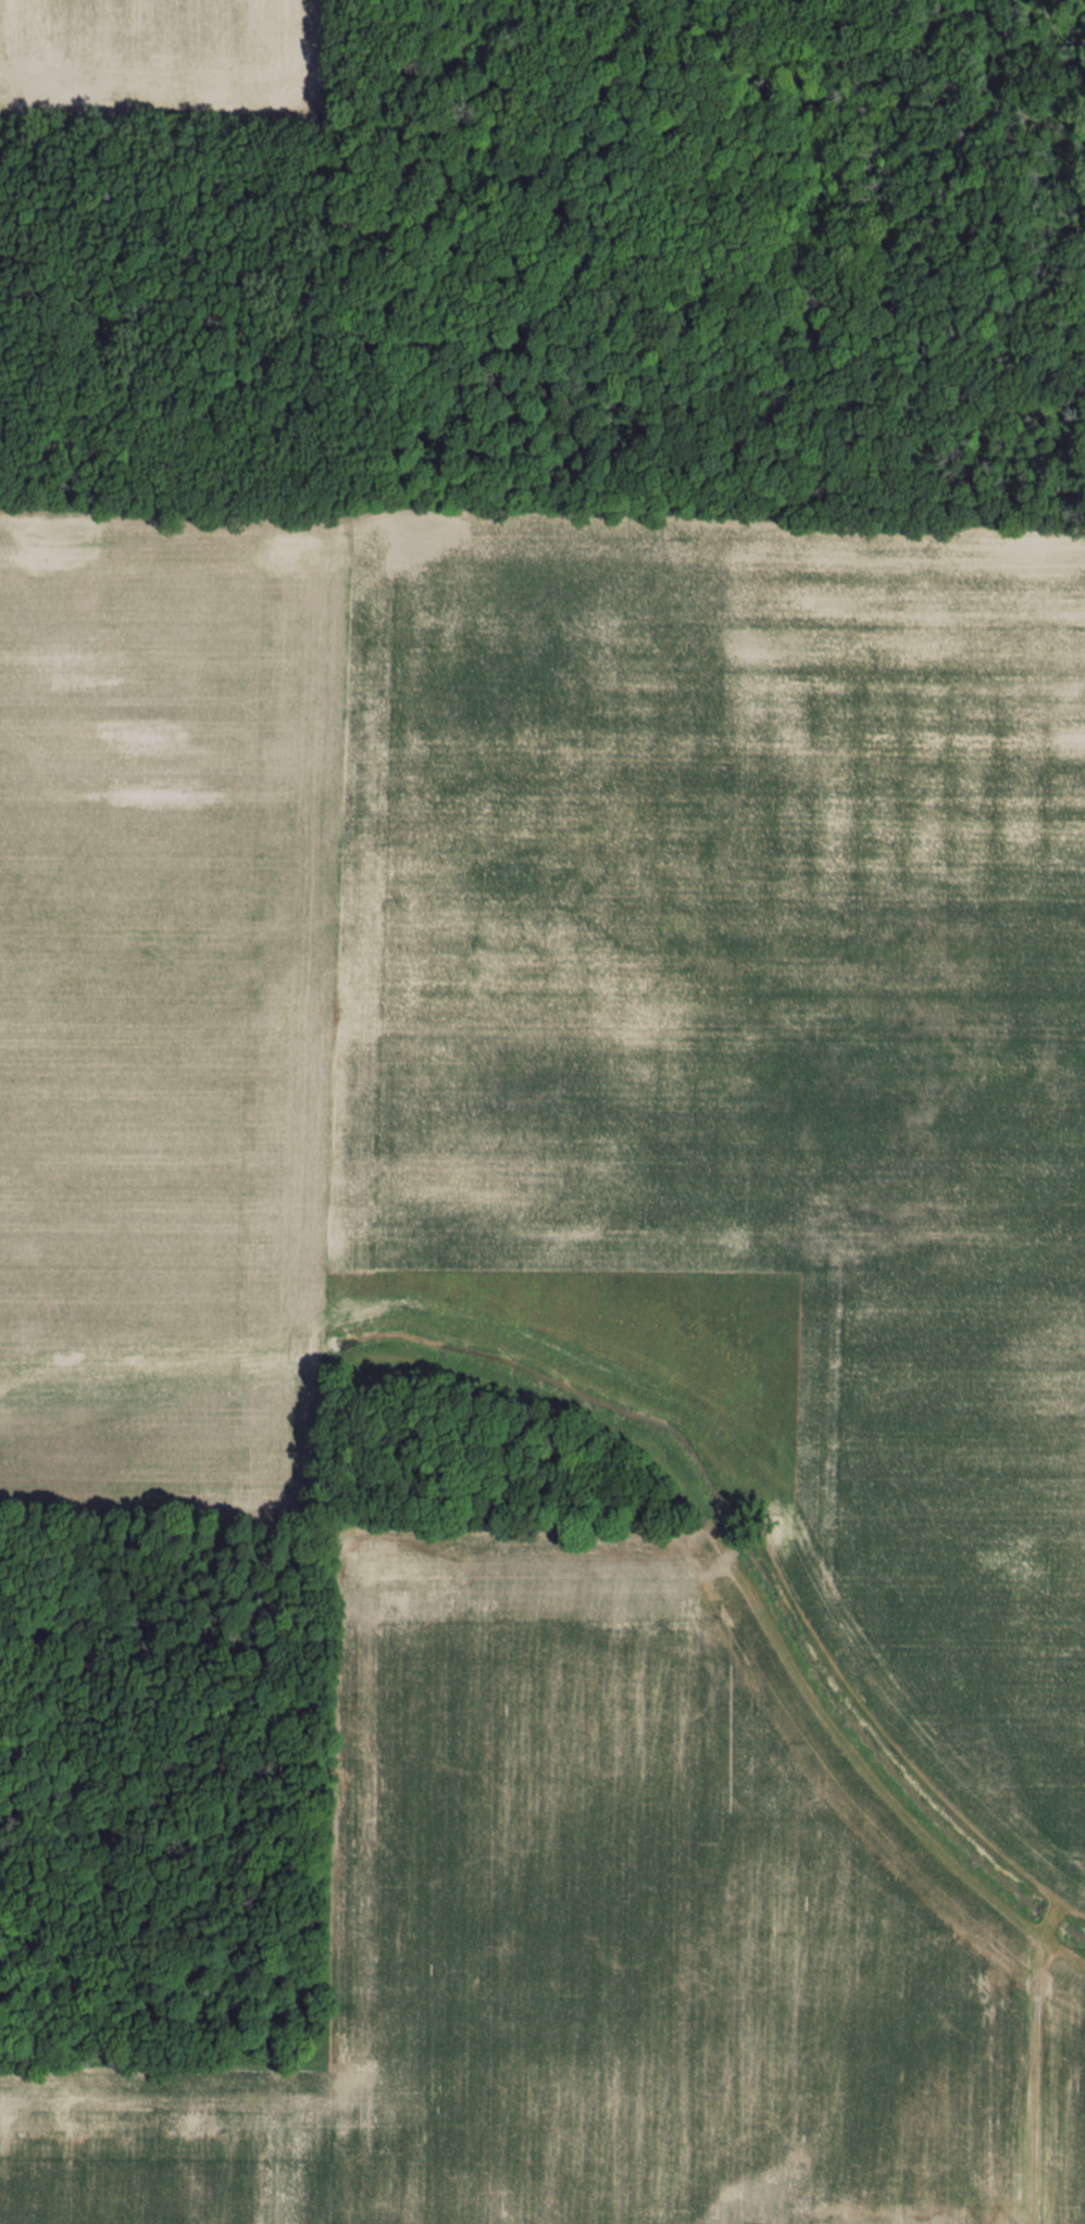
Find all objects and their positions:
building: (926, 2219)

